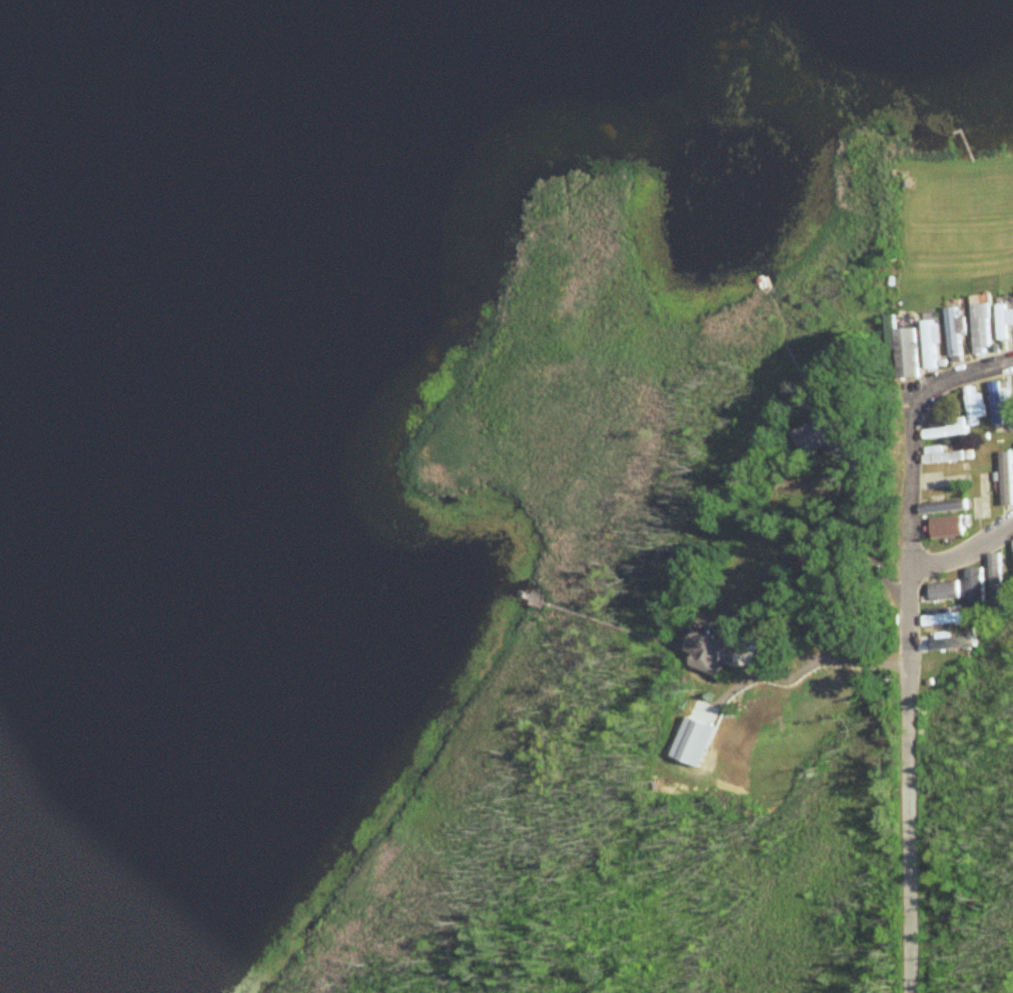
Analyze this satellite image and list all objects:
building: (1002, 321)
building: (980, 329)
building: (952, 333)
building: (930, 345)
building: (905, 354)
building: (1012, 378)
building: (997, 401)
building: (972, 407)
building: (943, 429)
building: (819, 437)
building: (942, 456)
building: (1005, 479)
building: (941, 507)
building: (946, 528)
road: (867, 536)
road: (966, 554)
building: (974, 587)
road: (908, 642)
road: (789, 644)
building: (718, 652)

